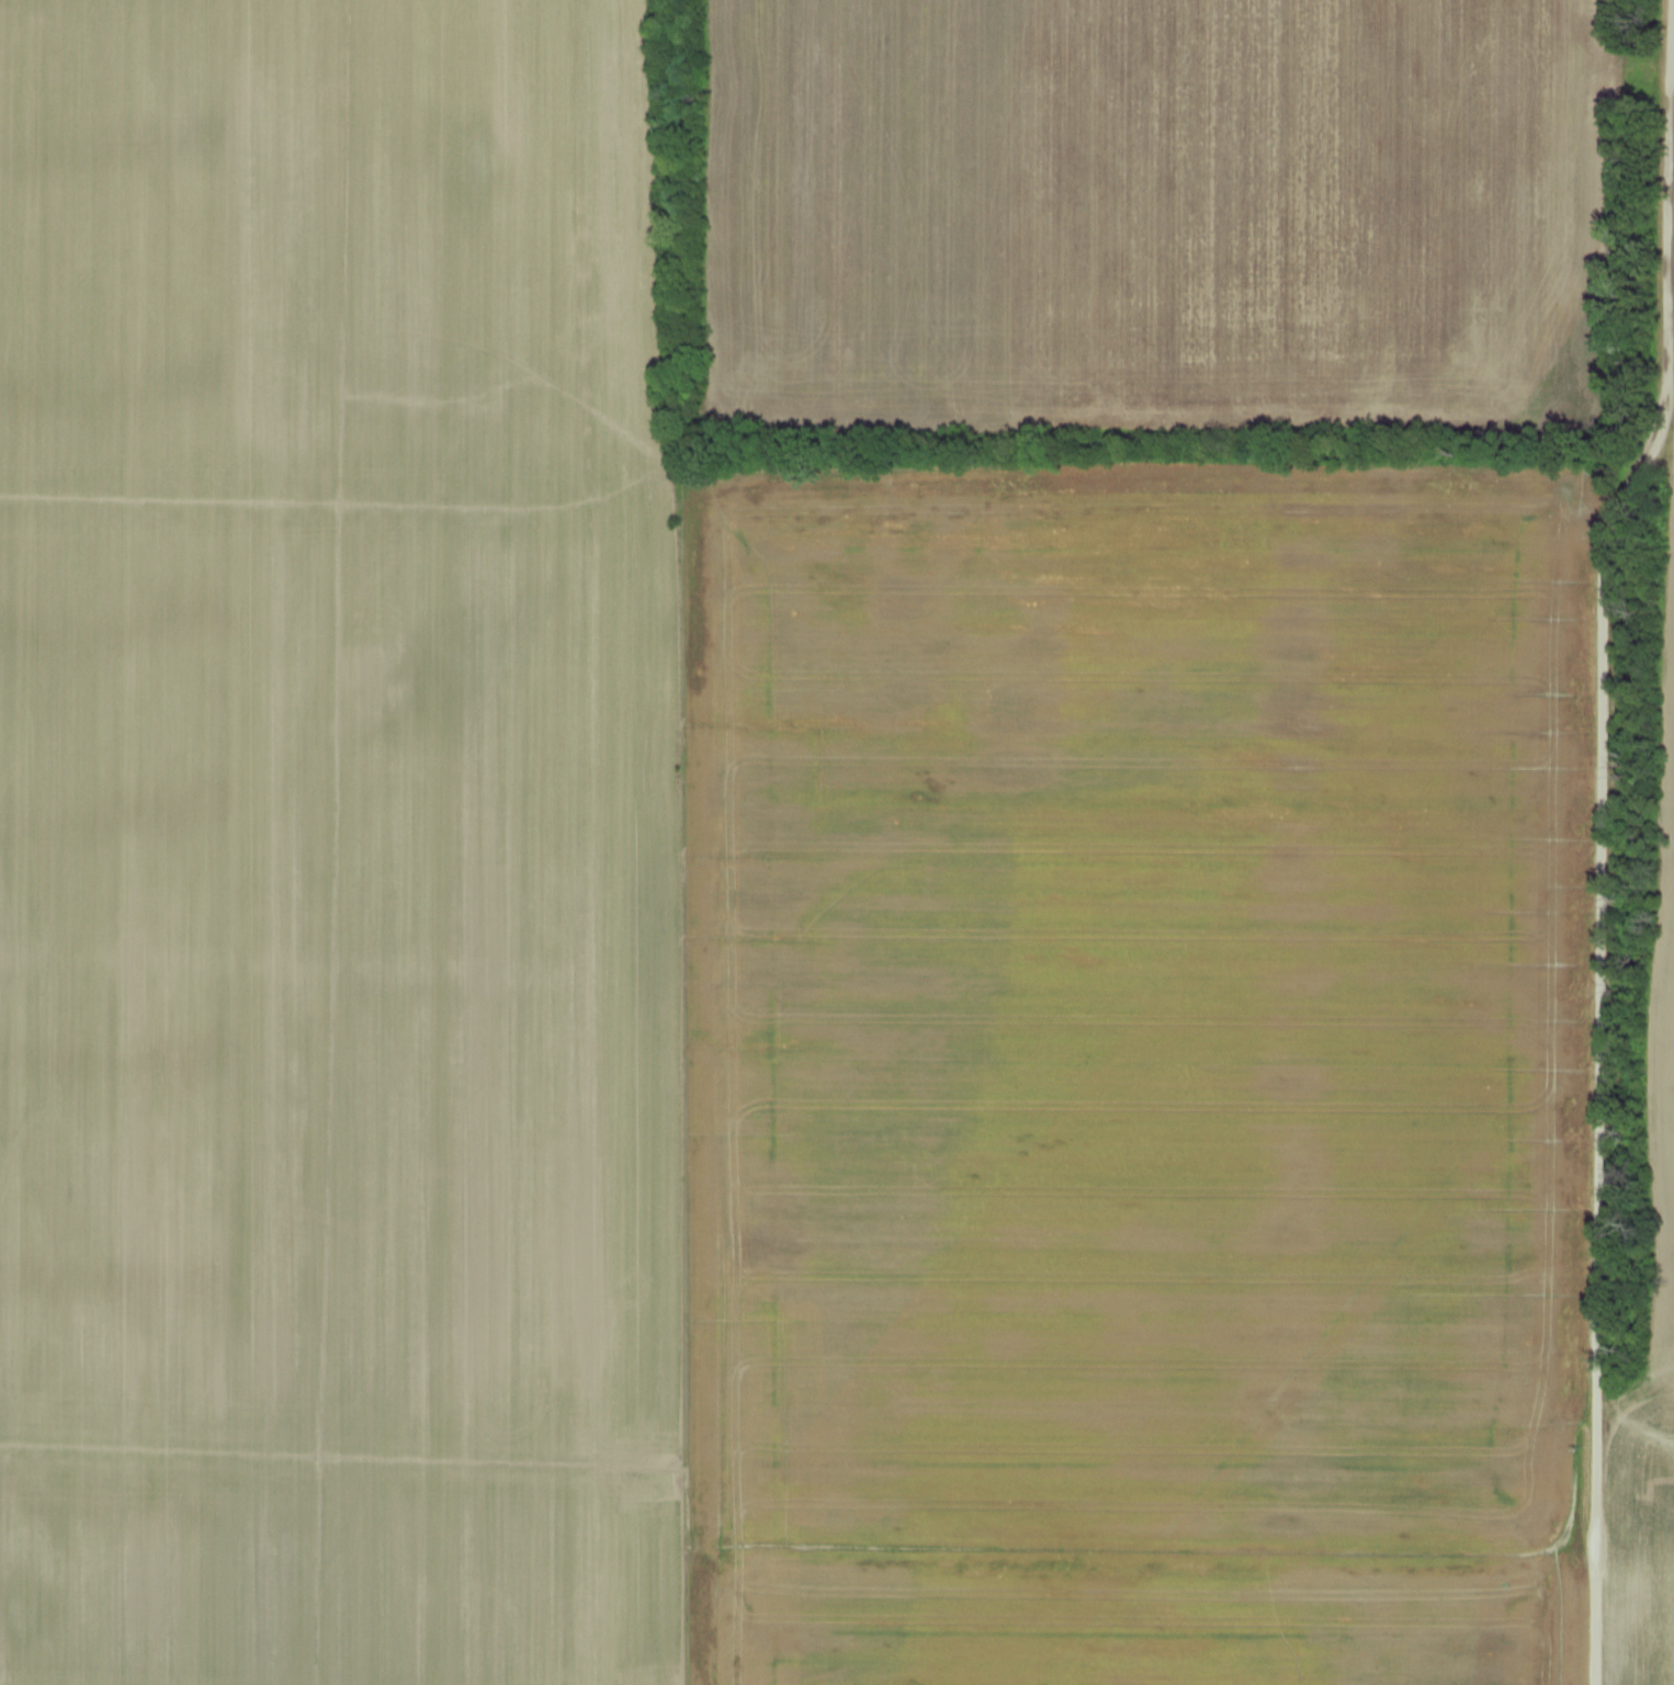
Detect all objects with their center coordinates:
road: (1592, 832)

